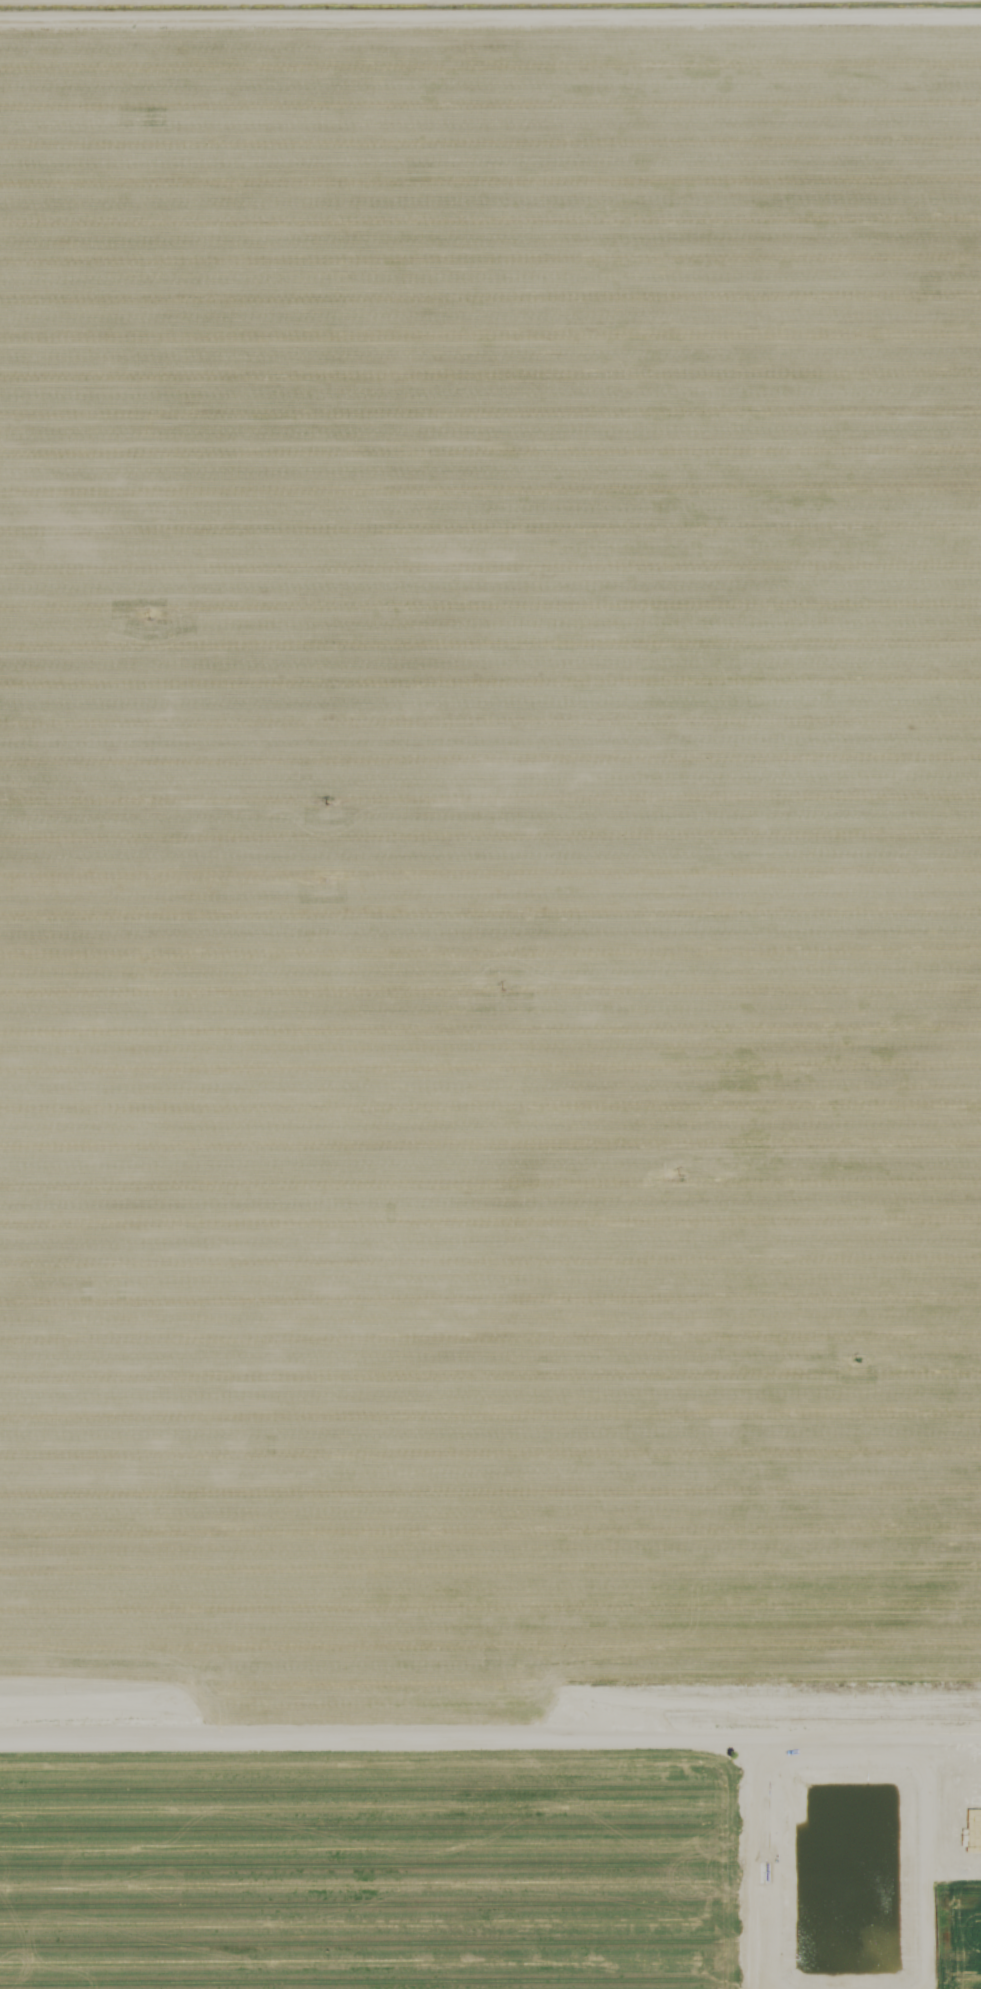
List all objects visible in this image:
road: (490, 1744)

